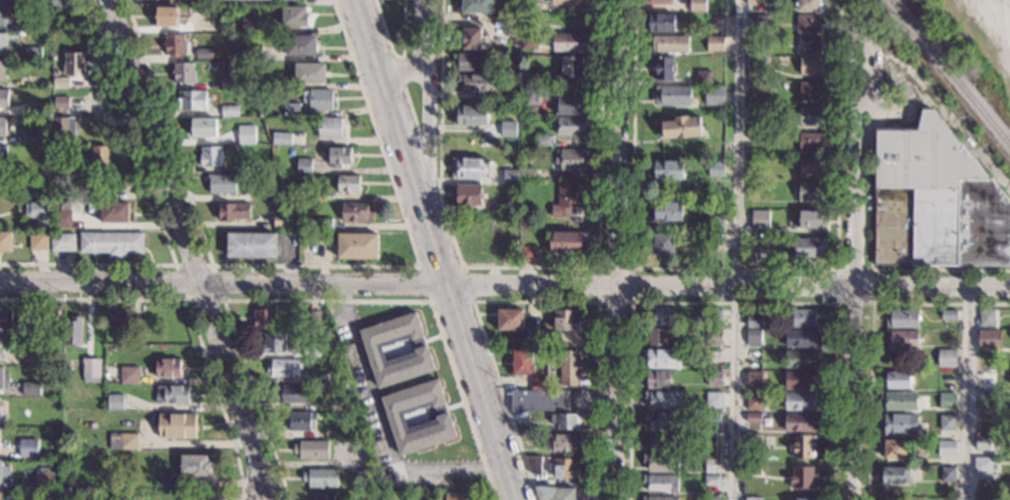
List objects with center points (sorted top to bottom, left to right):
building: (294, 0)
building: (658, 1)
building: (567, 2)
building: (754, 2)
building: (60, 4)
building: (530, 5)
building: (807, 5)
building: (477, 6)
building: (697, 6)
building: (510, 11)
building: (2, 13)
building: (166, 16)
building: (294, 16)
building: (574, 20)
building: (759, 21)
building: (660, 22)
building: (808, 23)
building: (27, 24)
building: (74, 24)
building: (249, 26)
building: (225, 27)
building: (530, 27)
building: (511, 28)
building: (469, 39)
building: (530, 41)
building: (571, 42)
building: (2, 43)
building: (175, 43)
building: (670, 43)
building: (715, 43)
building: (300, 44)
building: (808, 44)
building: (765, 50)
building: (33, 52)
building: (253, 52)
building: (204, 54)
building: (221, 56)
building: (229, 56)
building: (214, 57)
road: (396, 57)
building: (471, 61)
building: (756, 61)
building: (74, 63)
building: (813, 65)
building: (571, 67)
building: (664, 67)
building: (2, 70)
building: (183, 72)
building: (310, 72)
road: (399, 72)
road: (400, 72)
railway: (950, 73)
building: (528, 76)
building: (704, 77)
building: (262, 80)
building: (33, 81)
building: (477, 82)
building: (61, 83)
building: (228, 83)
building: (755, 86)
building: (811, 91)
building: (530, 94)
building: (673, 95)
building: (714, 95)
building: (511, 97)
building: (4, 98)
building: (191, 99)
building: (318, 99)
road: (427, 99)
building: (61, 102)
building: (572, 105)
building: (32, 109)
building: (291, 109)
building: (229, 110)
road: (410, 110)
building: (755, 111)
building: (470, 114)
road: (946, 115)
building: (810, 116)
building: (2, 126)
building: (572, 126)
building: (203, 127)
building: (330, 127)
building: (681, 127)
building: (508, 128)
building: (64, 129)
building: (246, 134)
building: (762, 136)
building: (31, 137)
building: (286, 138)
building: (544, 140)
building: (810, 141)
building: (227, 149)
building: (3, 155)
building: (210, 156)
building: (339, 156)
building: (99, 158)
building: (573, 158)
road: (855, 159)
building: (303, 165)
road: (428, 166)
building: (810, 166)
building: (468, 167)
building: (713, 168)
building: (669, 170)
building: (528, 173)
building: (510, 176)
building: (222, 182)
building: (348, 183)
building: (264, 191)
building: (811, 191)
building: (100, 193)
building: (89, 194)
building: (466, 194)
building: (317, 195)
building: (568, 197)
building: (935, 201)
building: (233, 211)
building: (355, 211)
building: (668, 211)
building: (38, 212)
building: (114, 212)
road: (158, 214)
building: (62, 219)
building: (760, 219)
building: (811, 219)
building: (282, 220)
building: (324, 223)
building: (715, 223)
building: (38, 241)
building: (5, 242)
building: (62, 242)
building: (569, 242)
building: (111, 243)
building: (251, 244)
building: (661, 244)
road: (189, 245)
building: (357, 245)
building: (754, 245)
building: (811, 248)
road: (434, 250)
road: (618, 250)
road: (736, 250)
building: (526, 254)
road: (315, 266)
road: (528, 267)
road: (731, 268)
road: (871, 270)
road: (940, 270)
road: (426, 285)
road: (931, 288)
road: (222, 300)
road: (325, 301)
road: (430, 302)
road: (529, 302)
road: (598, 303)
road: (733, 303)
road: (189, 310)
building: (948, 314)
building: (116, 317)
building: (661, 317)
building: (714, 317)
building: (986, 317)
building: (265, 318)
building: (313, 318)
building: (803, 318)
building: (902, 318)
building: (510, 320)
building: (566, 320)
building: (13, 321)
building: (754, 321)
building: (72, 331)
road: (871, 333)
building: (141, 334)
building: (533, 336)
building: (714, 336)
building: (753, 336)
building: (658, 338)
building: (802, 338)
building: (901, 338)
building: (551, 339)
building: (989, 339)
building: (273, 343)
building: (373, 349)
building: (311, 350)
building: (1, 351)
building: (753, 355)
building: (28, 357)
building: (946, 357)
building: (663, 358)
building: (801, 359)
building: (523, 362)
building: (283, 367)
building: (569, 367)
building: (168, 368)
building: (90, 369)
building: (57, 373)
building: (129, 375)
building: (3, 378)
building: (320, 378)
building: (658, 379)
building: (714, 379)
building: (754, 379)
building: (898, 379)
building: (802, 380)
building: (987, 381)
building: (538, 382)
building: (551, 384)
building: (33, 388)
road: (851, 393)
building: (173, 394)
building: (291, 394)
road: (963, 394)
building: (664, 399)
building: (714, 399)
building: (539, 400)
building: (899, 400)
building: (947, 400)
building: (115, 401)
building: (800, 401)
building: (754, 402)
building: (331, 405)
building: (986, 411)
building: (538, 413)
building: (394, 416)
building: (753, 417)
building: (301, 420)
building: (565, 420)
building: (663, 420)
building: (802, 422)
building: (947, 423)
building: (712, 424)
building: (899, 424)
building: (177, 425)
road: (384, 429)
building: (114, 441)
building: (129, 441)
building: (753, 441)
building: (565, 442)
building: (659, 443)
building: (983, 443)
building: (711, 445)
building: (802, 446)
building: (28, 447)
building: (892, 448)
building: (946, 448)
building: (311, 449)
building: (661, 462)
building: (711, 463)
building: (195, 464)
building: (534, 464)
building: (982, 464)
building: (53, 465)
building: (566, 468)
building: (753, 470)
building: (5, 473)
building: (948, 474)
building: (895, 475)
building: (321, 477)
building: (802, 477)
building: (44, 480)
building: (165, 480)
building: (712, 480)
building: (661, 483)
building: (555, 493)
building: (0, 495)
building: (64, 496)
building: (456, 496)
building: (982, 496)
building: (322, 497)
building: (659, 497)
building: (196, 498)
building: (711, 498)
building: (753, 498)
building: (809, 499)
building: (892, 499)

